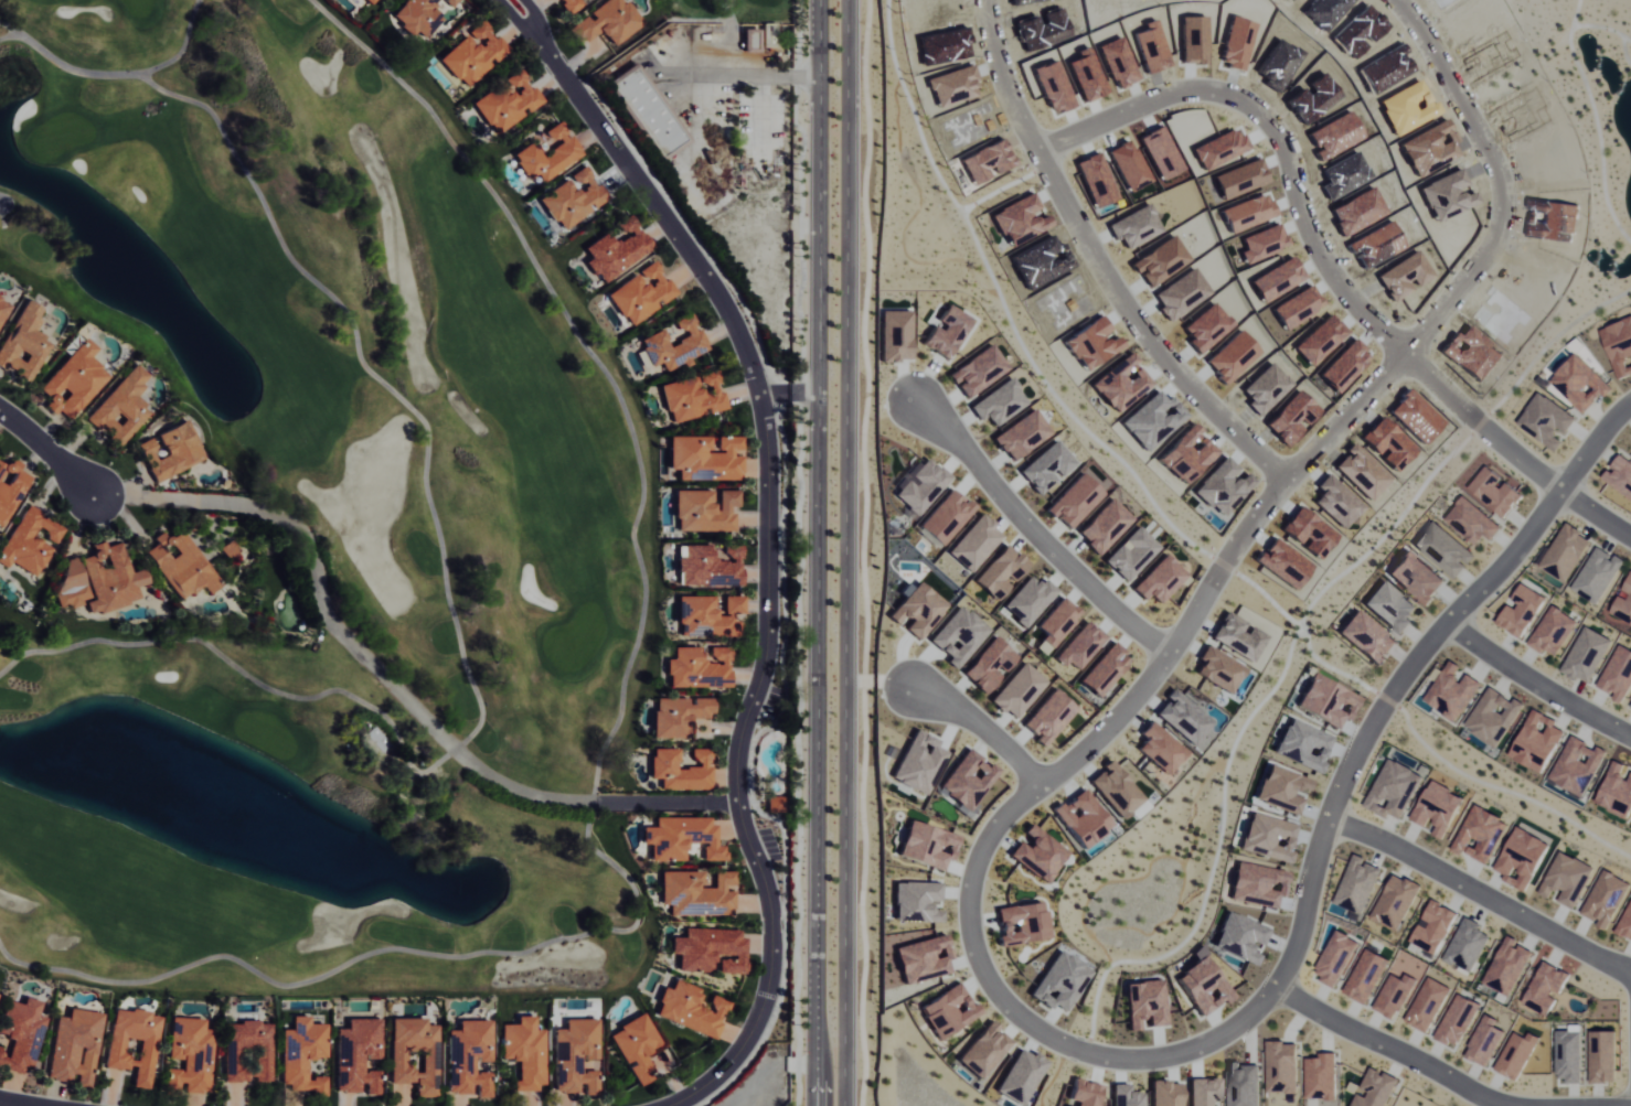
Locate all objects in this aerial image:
building: (371, 0)
building: (452, 2)
building: (569, 6)
park: (744, 6)
building: (417, 17)
building: (607, 22)
road: (537, 25)
road: (523, 26)
building: (751, 39)
building: (473, 54)
building: (507, 103)
building: (647, 110)
road: (1286, 125)
building: (548, 154)
building: (574, 198)
building: (616, 251)
road: (1110, 259)
building: (640, 294)
building: (2, 305)
building: (21, 343)
building: (674, 346)
building: (71, 382)
road: (804, 393)
road: (775, 394)
building: (692, 397)
building: (119, 407)
road: (1488, 415)
road: (1592, 439)
road: (45, 450)
building: (168, 451)
building: (705, 458)
building: (1620, 474)
building: (9, 485)
building: (1494, 491)
building: (1610, 492)
road: (1596, 500)
building: (704, 509)
building: (1471, 520)
road: (1041, 524)
park: (329, 536)
building: (26, 540)
building: (1445, 549)
building: (1566, 551)
road: (819, 552)
road: (848, 552)
building: (177, 563)
building: (707, 566)
road: (768, 573)
building: (1597, 575)
building: (1416, 577)
building: (106, 578)
building: (66, 582)
building: (1623, 602)
building: (1392, 606)
building: (1521, 610)
building: (706, 615)
building: (1553, 631)
building: (1367, 636)
building: (1587, 654)
road: (362, 661)
road: (1539, 665)
building: (699, 666)
building: (1618, 674)
building: (1453, 694)
building: (1326, 699)
building: (678, 715)
road: (982, 716)
building: (1494, 717)
building: (1536, 741)
building: (1304, 744)
building: (1577, 765)
building: (681, 770)
building: (1616, 791)
road: (721, 801)
road: (692, 804)
building: (775, 804)
building: (681, 838)
road: (991, 838)
road: (1484, 885)
building: (696, 892)
building: (1606, 899)
building: (1396, 901)
building: (1625, 924)
building: (1433, 927)
building: (1467, 944)
building: (710, 949)
building: (1507, 966)
building: (1546, 987)
building: (691, 1009)
building: (21, 1033)
building: (131, 1043)
building: (74, 1046)
building: (636, 1046)
building: (245, 1051)
building: (524, 1052)
building: (189, 1054)
building: (413, 1054)
building: (1516, 1054)
building: (301, 1055)
building: (355, 1055)
building: (1569, 1055)
building: (576, 1056)
building: (468, 1057)
road: (1445, 1070)
road: (17, 1103)

